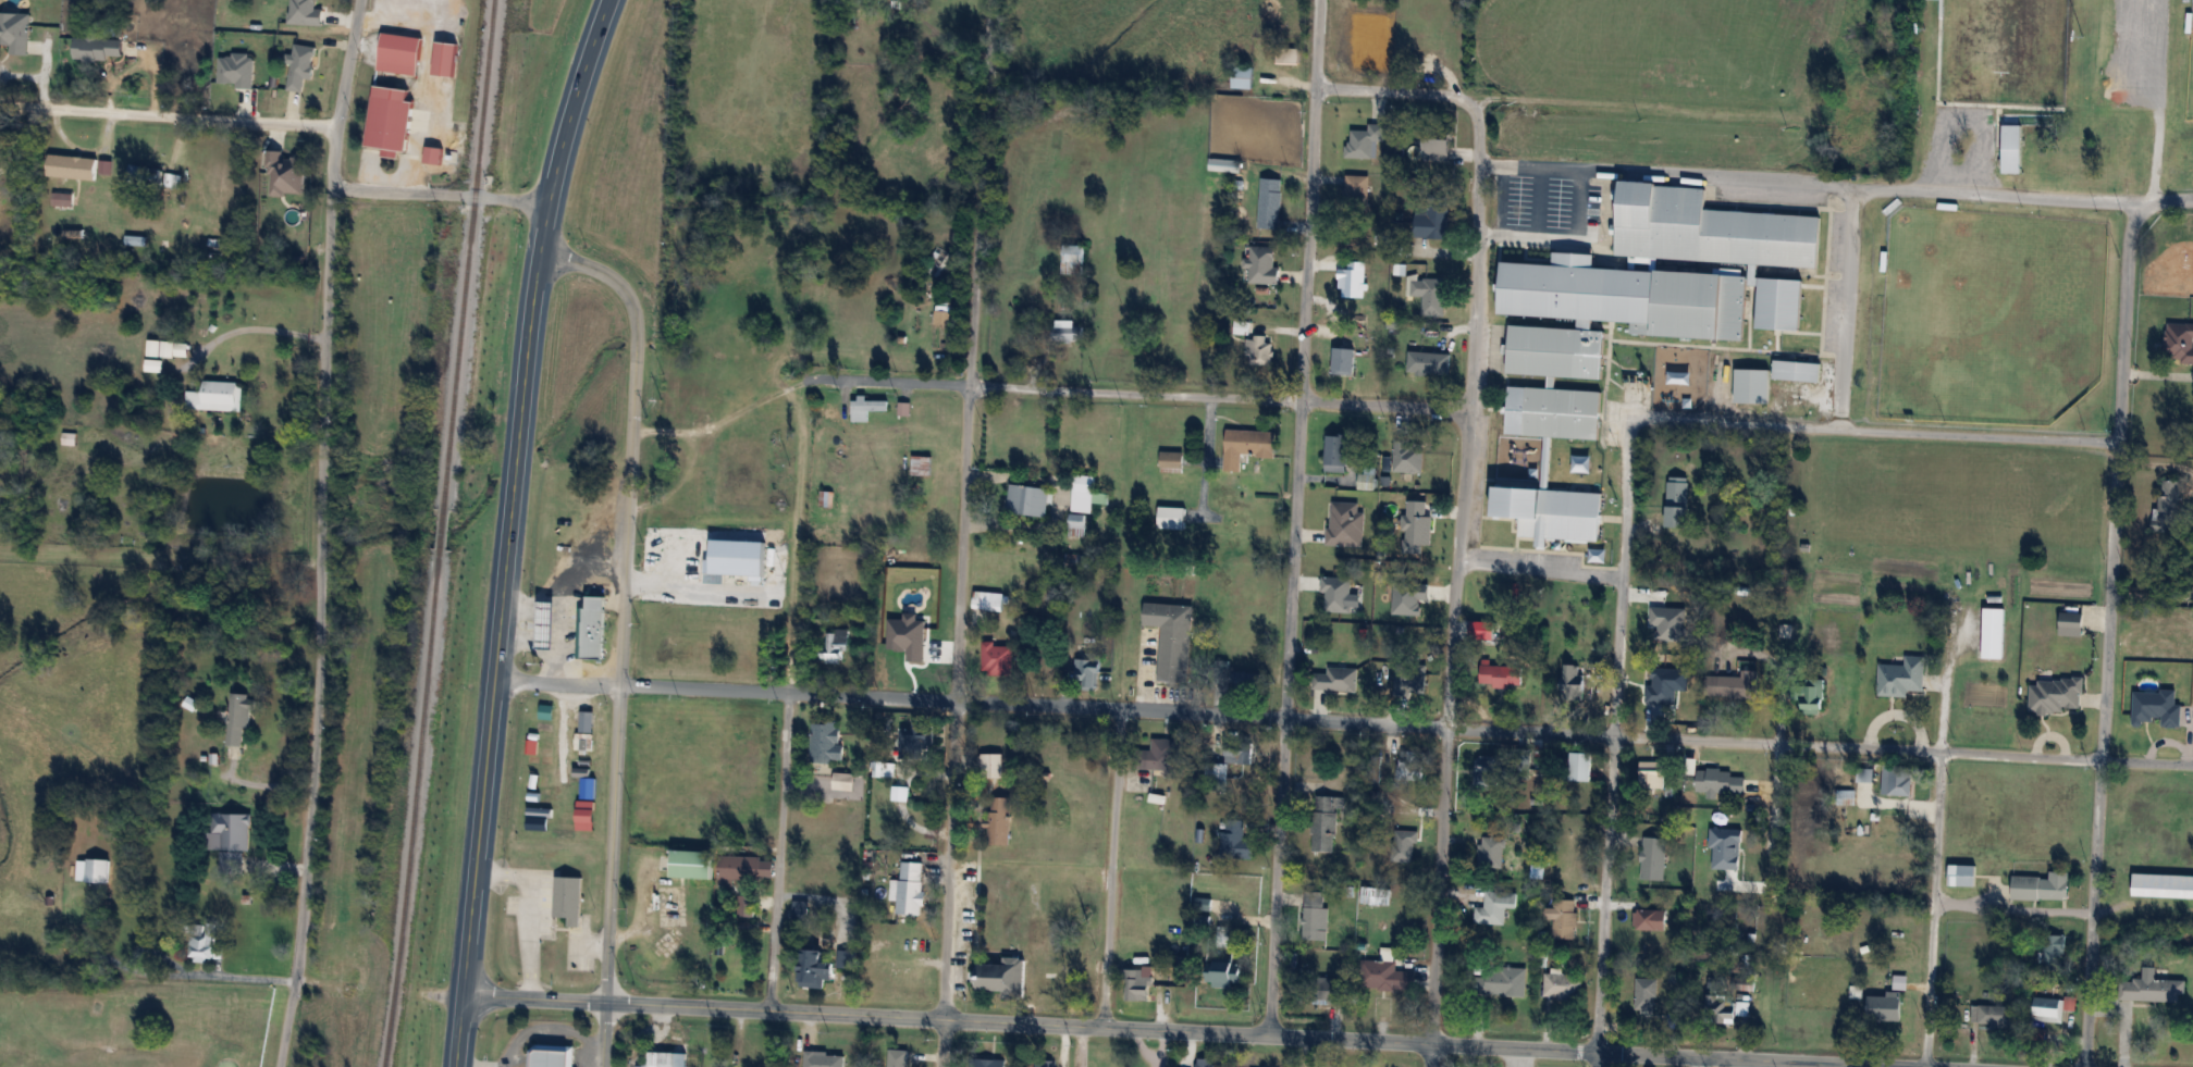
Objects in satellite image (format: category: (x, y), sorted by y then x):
building: (1365, 39)
building: (1407, 47)
building: (399, 53)
building: (1288, 55)
building: (1434, 60)
building: (1242, 77)
road: (1395, 90)
road: (168, 115)
building: (1856, 119)
building: (390, 124)
building: (2031, 126)
road: (568, 127)
building: (1364, 140)
building: (1438, 144)
building: (2124, 150)
building: (2062, 158)
building: (1224, 165)
building: (72, 166)
building: (145, 176)
building: (172, 181)
road: (1812, 185)
building: (1356, 194)
road: (442, 196)
road: (1309, 199)
road: (2163, 200)
building: (1270, 202)
road: (1536, 204)
building: (1433, 221)
road: (1560, 240)
building: (1700, 258)
building: (1072, 259)
building: (1262, 265)
building: (1429, 295)
road: (1840, 308)
building: (1343, 317)
road: (2124, 327)
building: (1068, 331)
building: (2179, 342)
building: (168, 347)
building: (1258, 350)
building: (1344, 360)
building: (1429, 362)
building: (1752, 385)
road: (1135, 392)
building: (215, 395)
building: (865, 407)
building: (903, 408)
building: (829, 412)
road: (1470, 417)
road: (1877, 430)
building: (69, 437)
building: (1547, 443)
building: (1246, 445)
building: (1335, 452)
building: (742, 455)
building: (1407, 459)
building: (1171, 460)
building: (920, 464)
building: (1366, 477)
building: (1085, 493)
building: (826, 498)
building: (1027, 499)
building: (1677, 501)
building: (2168, 505)
building: (1171, 517)
building: (1345, 523)
building: (1076, 524)
building: (1415, 526)
road: (320, 533)
road: (962, 533)
railway: (442, 534)
road: (1539, 570)
road: (1622, 575)
building: (987, 600)
building: (2072, 623)
building: (547, 624)
road: (500, 630)
building: (1480, 630)
building: (591, 632)
road: (621, 632)
building: (1994, 632)
building: (1172, 640)
building: (833, 647)
building: (997, 658)
building: (1084, 668)
building: (1500, 674)
building: (1902, 677)
building: (1409, 679)
building: (1246, 680)
building: (1573, 680)
building: (1733, 684)
building: (1316, 687)
road: (1943, 691)
road: (786, 692)
building: (2056, 695)
building: (1813, 697)
building: (239, 717)
road: (1285, 717)
building: (2149, 720)
road: (1343, 721)
building: (916, 735)
building: (827, 742)
building: (2184, 743)
road: (2102, 754)
building: (1163, 757)
building: (1229, 761)
building: (1409, 764)
building: (990, 766)
building: (883, 768)
building: (1491, 770)
building: (1651, 774)
building: (1897, 780)
building: (843, 781)
building: (999, 820)
building: (1325, 823)
building: (232, 839)
building: (1235, 841)
building: (1397, 845)
building: (1492, 852)
building: (1652, 858)
building: (692, 864)
building: (740, 867)
road: (1114, 869)
building: (91, 870)
building: (1962, 874)
building: (2058, 884)
building: (2161, 885)
building: (909, 889)
road: (1604, 892)
building: (1375, 895)
road: (1437, 896)
building: (1068, 897)
building: (568, 899)
building: (1203, 904)
building: (1495, 907)
road: (2012, 907)
building: (344, 909)
road: (1932, 909)
building: (801, 910)
building: (1315, 916)
building: (1648, 917)
building: (1564, 918)
building: (1810, 932)
building: (1036, 936)
building: (1222, 936)
building: (669, 941)
building: (202, 944)
building: (2053, 952)
building: (737, 964)
building: (815, 969)
road: (220, 971)
building: (1223, 973)
building: (1384, 976)
building: (1003, 978)
building: (1499, 981)
building: (1137, 984)
building: (1046, 985)
building: (1563, 985)
building: (1073, 989)
building: (2153, 990)
building: (1644, 996)
road: (534, 1001)
building: (1885, 1007)
building: (2050, 1008)
building: (1720, 1009)
building: (1993, 1015)
road: (527, 1029)
road: (458, 1033)
road: (1230, 1033)
road: (1082, 1047)
road: (1310, 1052)
building: (552, 1056)
building: (896, 1057)
building: (663, 1059)
building: (824, 1059)
road: (1596, 1059)
building: (1204, 1062)
road: (1696, 1062)
building: (989, 1063)
building: (1043, 1063)

